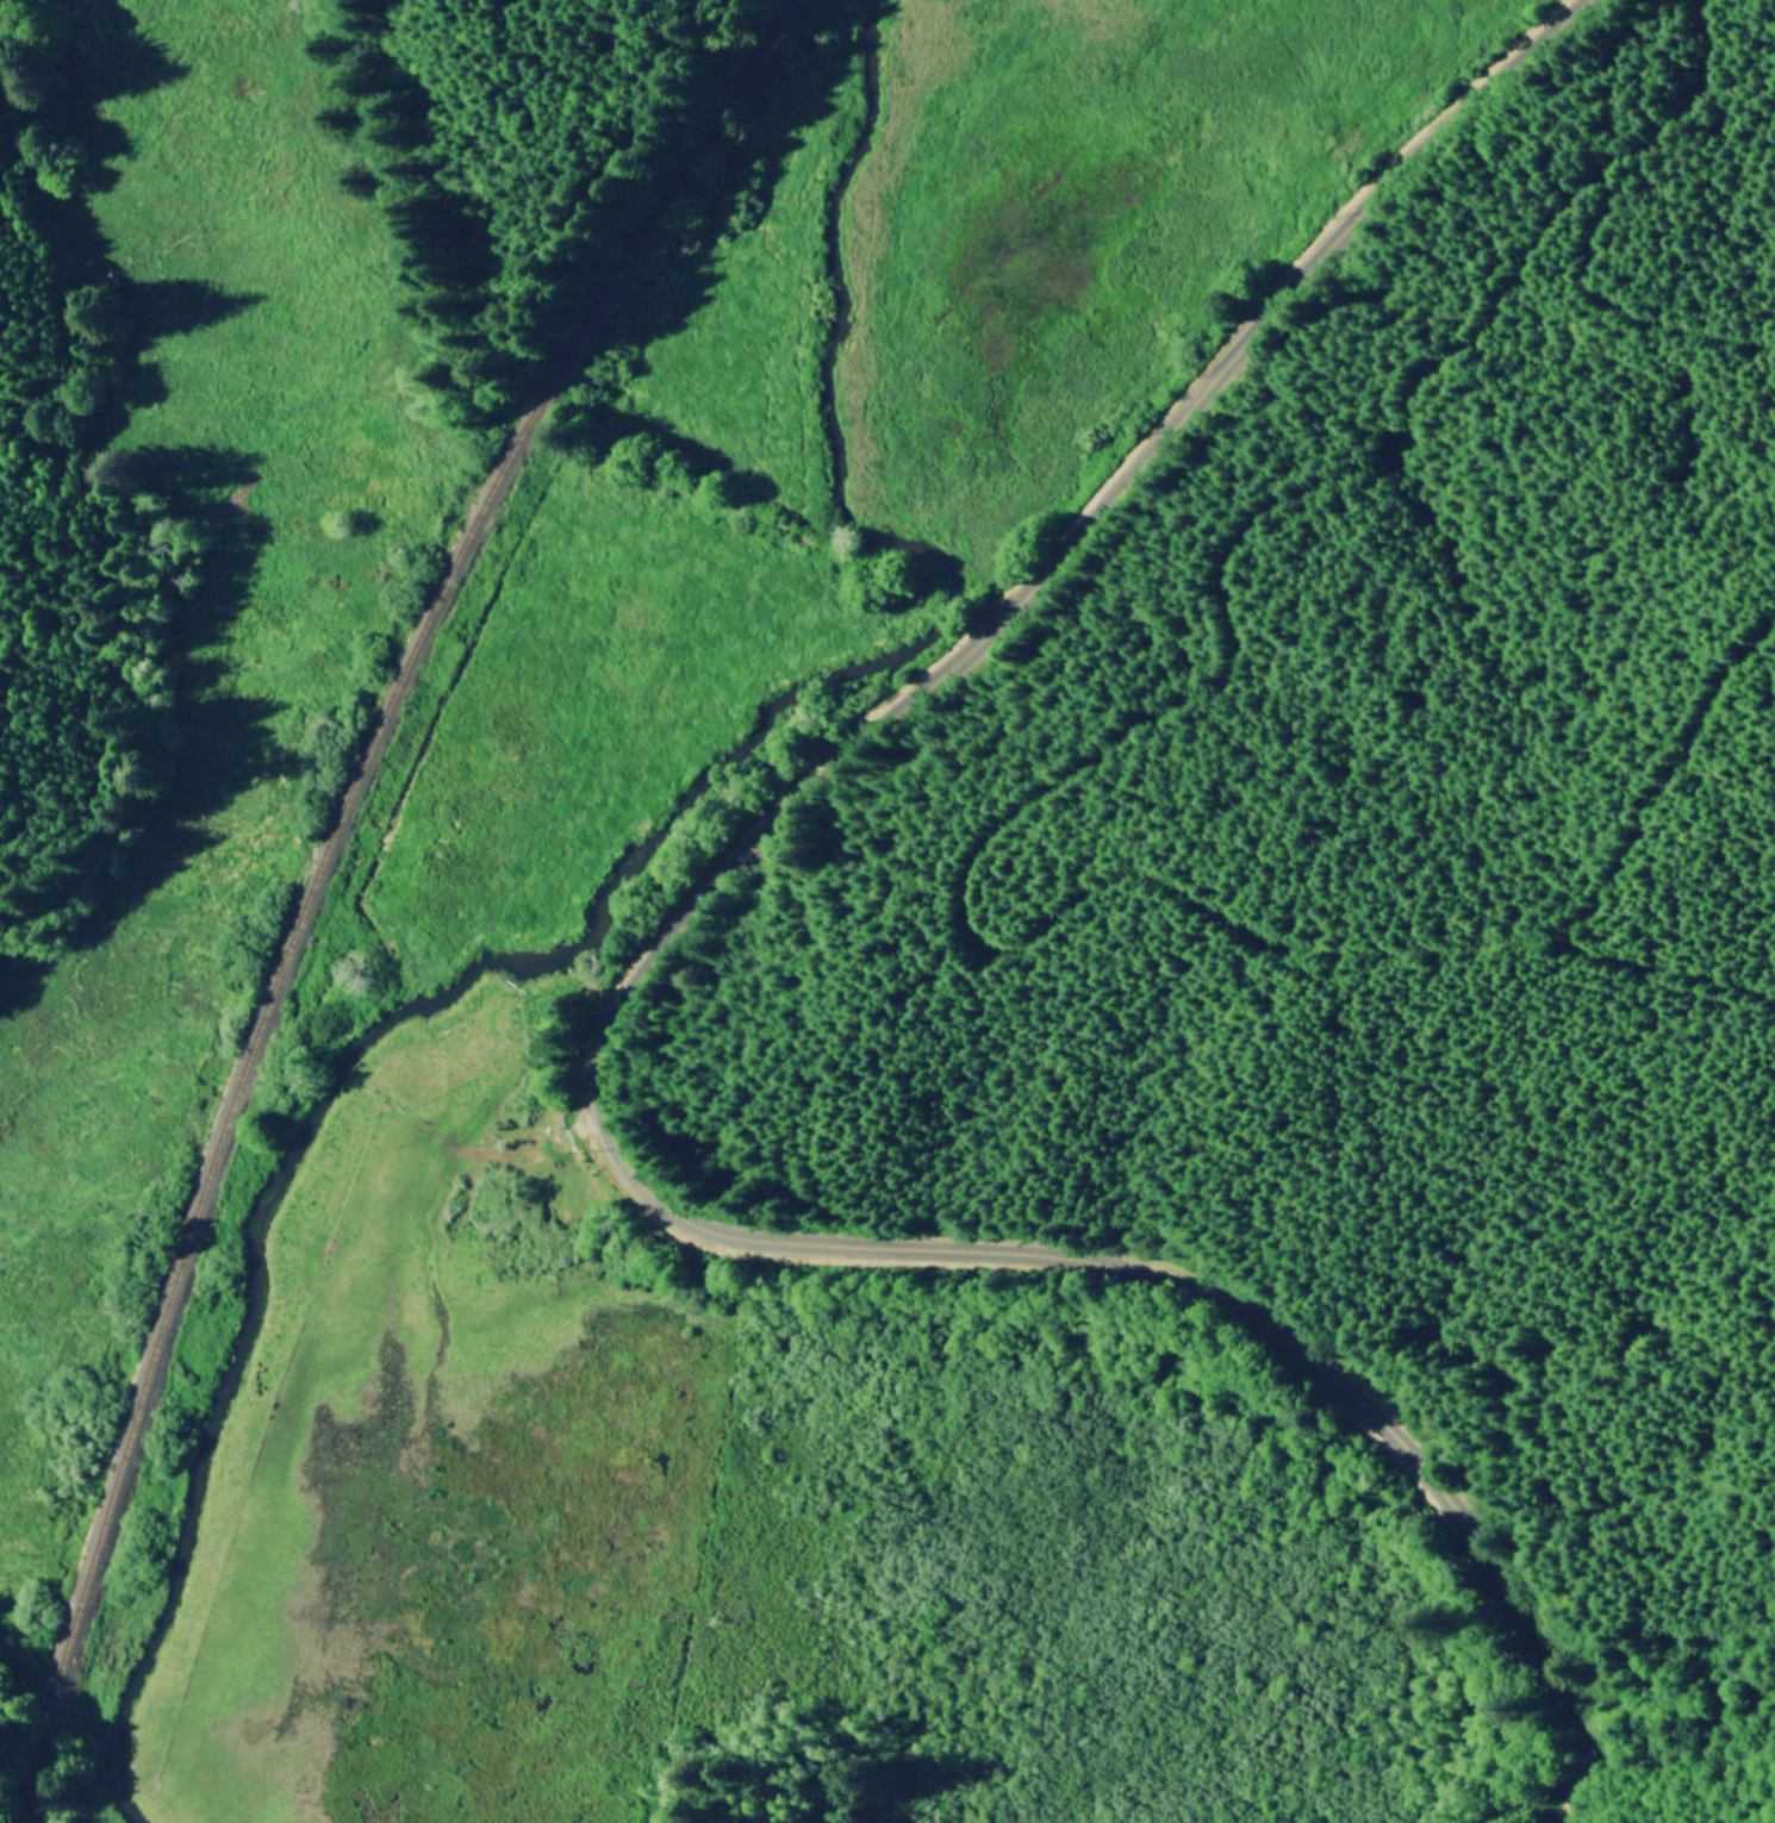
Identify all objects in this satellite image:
road: (528, 394)
railway: (313, 875)
road: (602, 1023)

